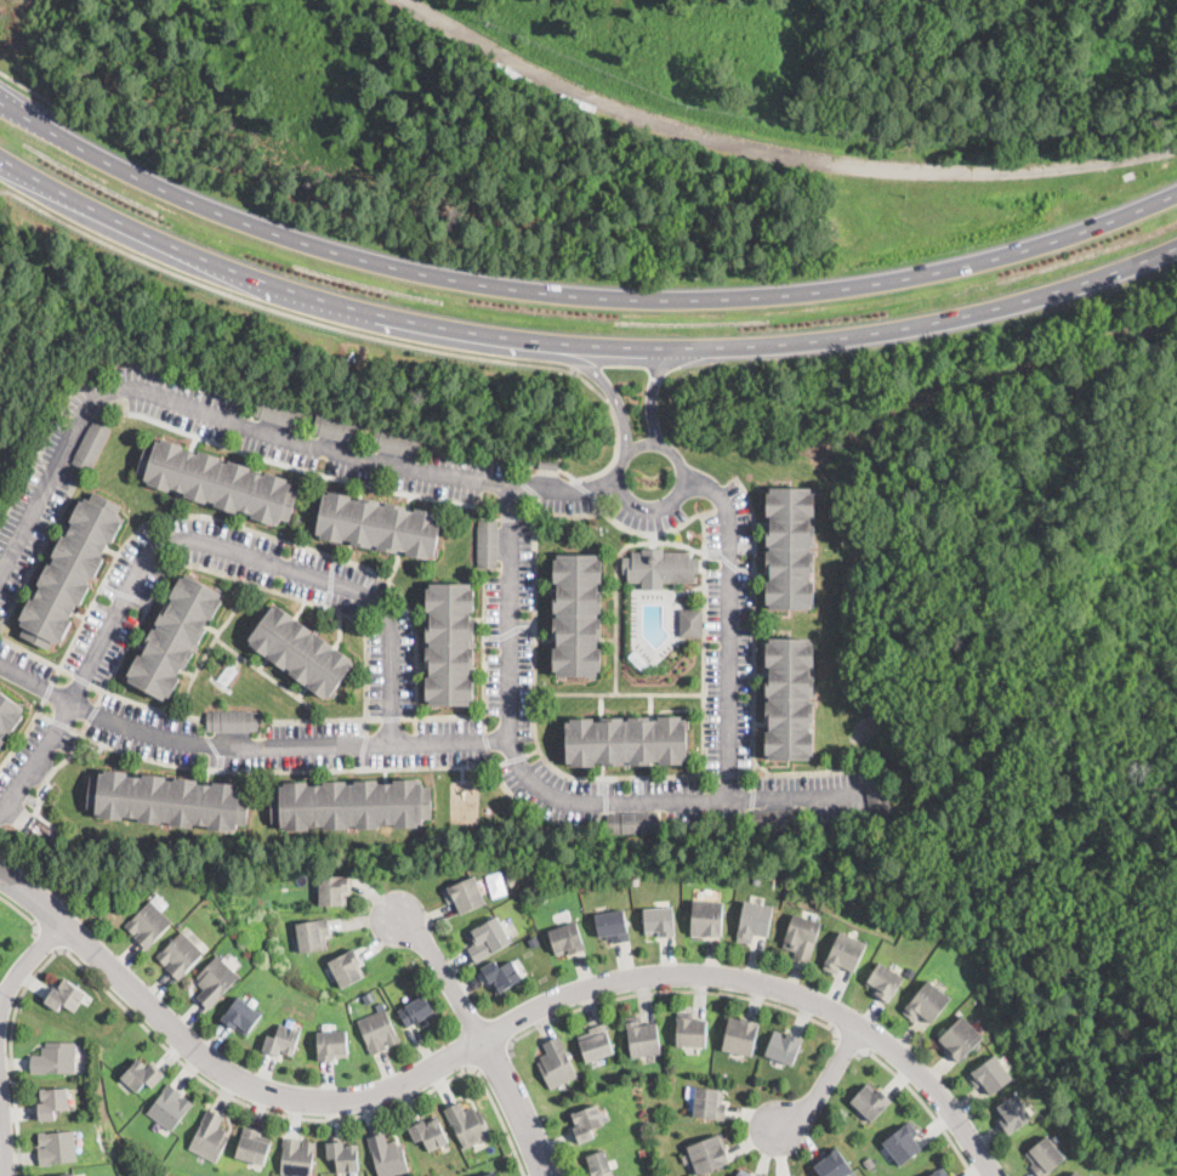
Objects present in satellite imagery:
road: (25, 86)
road: (721, 138)
road: (576, 296)
road: (356, 330)
road: (576, 345)
road: (592, 373)
road: (650, 393)
building: (278, 413)
road: (256, 425)
building: (336, 428)
building: (396, 443)
building: (90, 445)
building: (547, 465)
building: (217, 482)
road: (619, 485)
road: (585, 513)
road: (692, 517)
building: (379, 525)
road: (188, 540)
building: (487, 544)
building: (790, 549)
building: (659, 568)
building: (70, 570)
building: (576, 614)
park: (1094, 621)
building: (690, 623)
road: (729, 625)
building: (175, 636)
building: (449, 644)
building: (300, 651)
building: (638, 661)
building: (790, 699)
building: (8, 716)
building: (232, 721)
building: (626, 740)
road: (246, 745)
road: (546, 790)
building: (877, 795)
building: (167, 800)
building: (351, 805)
building: (777, 819)
building: (632, 823)
road: (0, 847)
road: (27, 867)
building: (510, 875)
building: (689, 879)
building: (756, 879)
building: (636, 880)
building: (194, 882)
building: (250, 884)
building: (332, 887)
building: (465, 892)
road: (24, 913)
building: (707, 919)
building: (754, 921)
building: (659, 922)
building: (148, 924)
building: (612, 926)
building: (313, 933)
building: (488, 937)
building: (802, 937)
road: (50, 939)
building: (567, 939)
building: (845, 953)
building: (180, 955)
road: (28, 961)
building: (346, 967)
building: (500, 976)
building: (885, 979)
building: (215, 981)
road: (670, 990)
building: (66, 995)
building: (926, 1001)
building: (416, 1011)
building: (241, 1015)
building: (377, 1032)
building: (692, 1032)
building: (740, 1036)
building: (642, 1038)
building: (960, 1038)
road: (483, 1039)
road: (489, 1040)
building: (282, 1041)
building: (332, 1043)
road: (851, 1043)
building: (596, 1044)
building: (784, 1047)
road: (11, 1055)
road: (491, 1056)
building: (55, 1058)
building: (556, 1064)
building: (990, 1073)
building: (142, 1075)
road: (821, 1084)
building: (870, 1101)
building: (51, 1102)
road: (248, 1103)
building: (709, 1103)
road: (923, 1103)
building: (169, 1107)
building: (1012, 1112)
road: (500, 1123)
building: (586, 1123)
building: (467, 1125)
road: (4, 1131)
building: (428, 1134)
building: (209, 1137)
building: (903, 1143)
building: (252, 1144)
building: (56, 1147)
building: (642, 1152)
building: (709, 1154)
building: (387, 1155)
building: (1044, 1155)
building: (343, 1157)
building: (296, 1158)
building: (599, 1164)
building: (834, 1165)
building: (939, 1172)
building: (490, 1174)
building: (743, 1174)
building: (1075, 1174)
building: (69, 1175)

